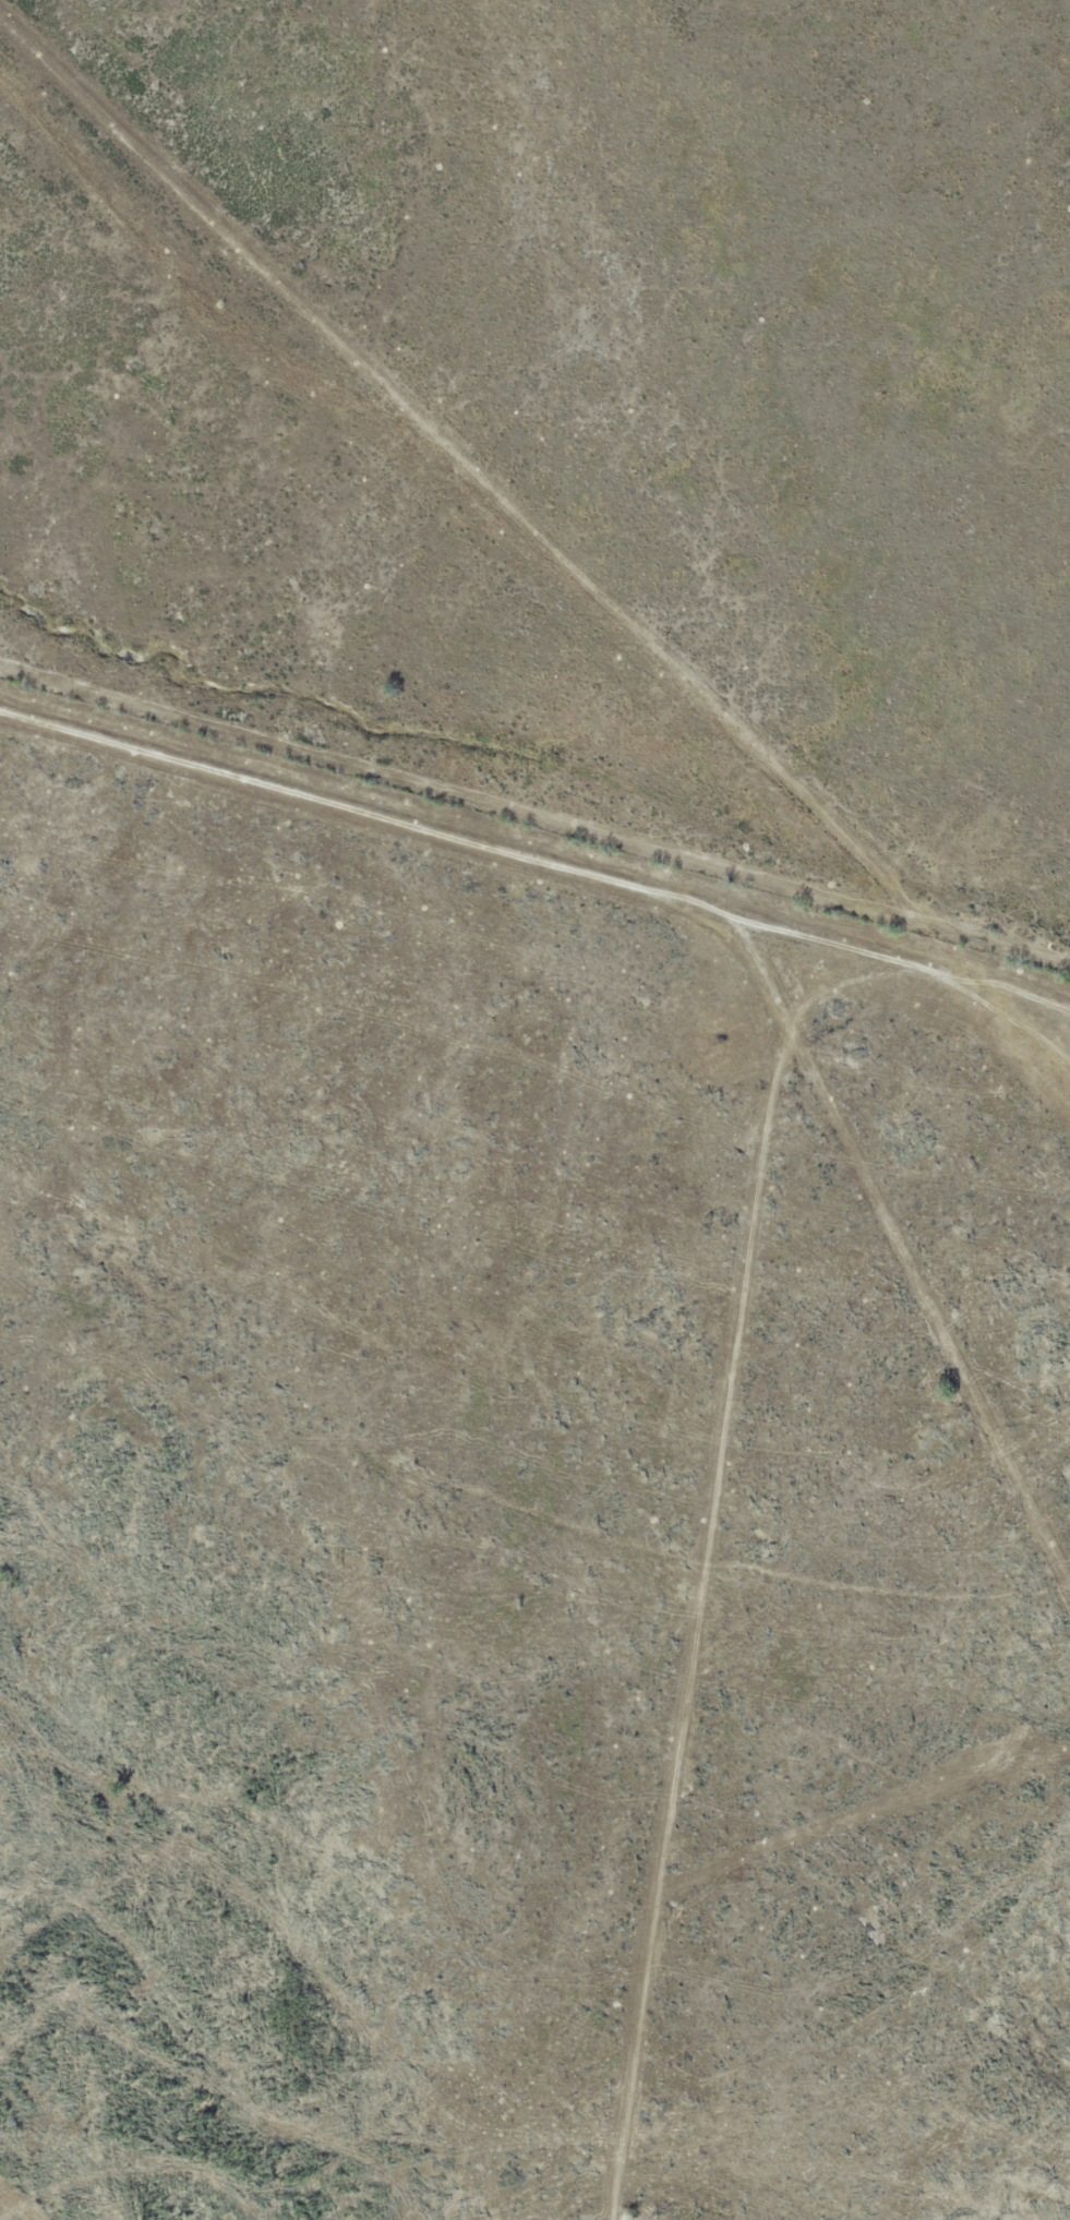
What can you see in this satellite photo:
road: (534, 840)

